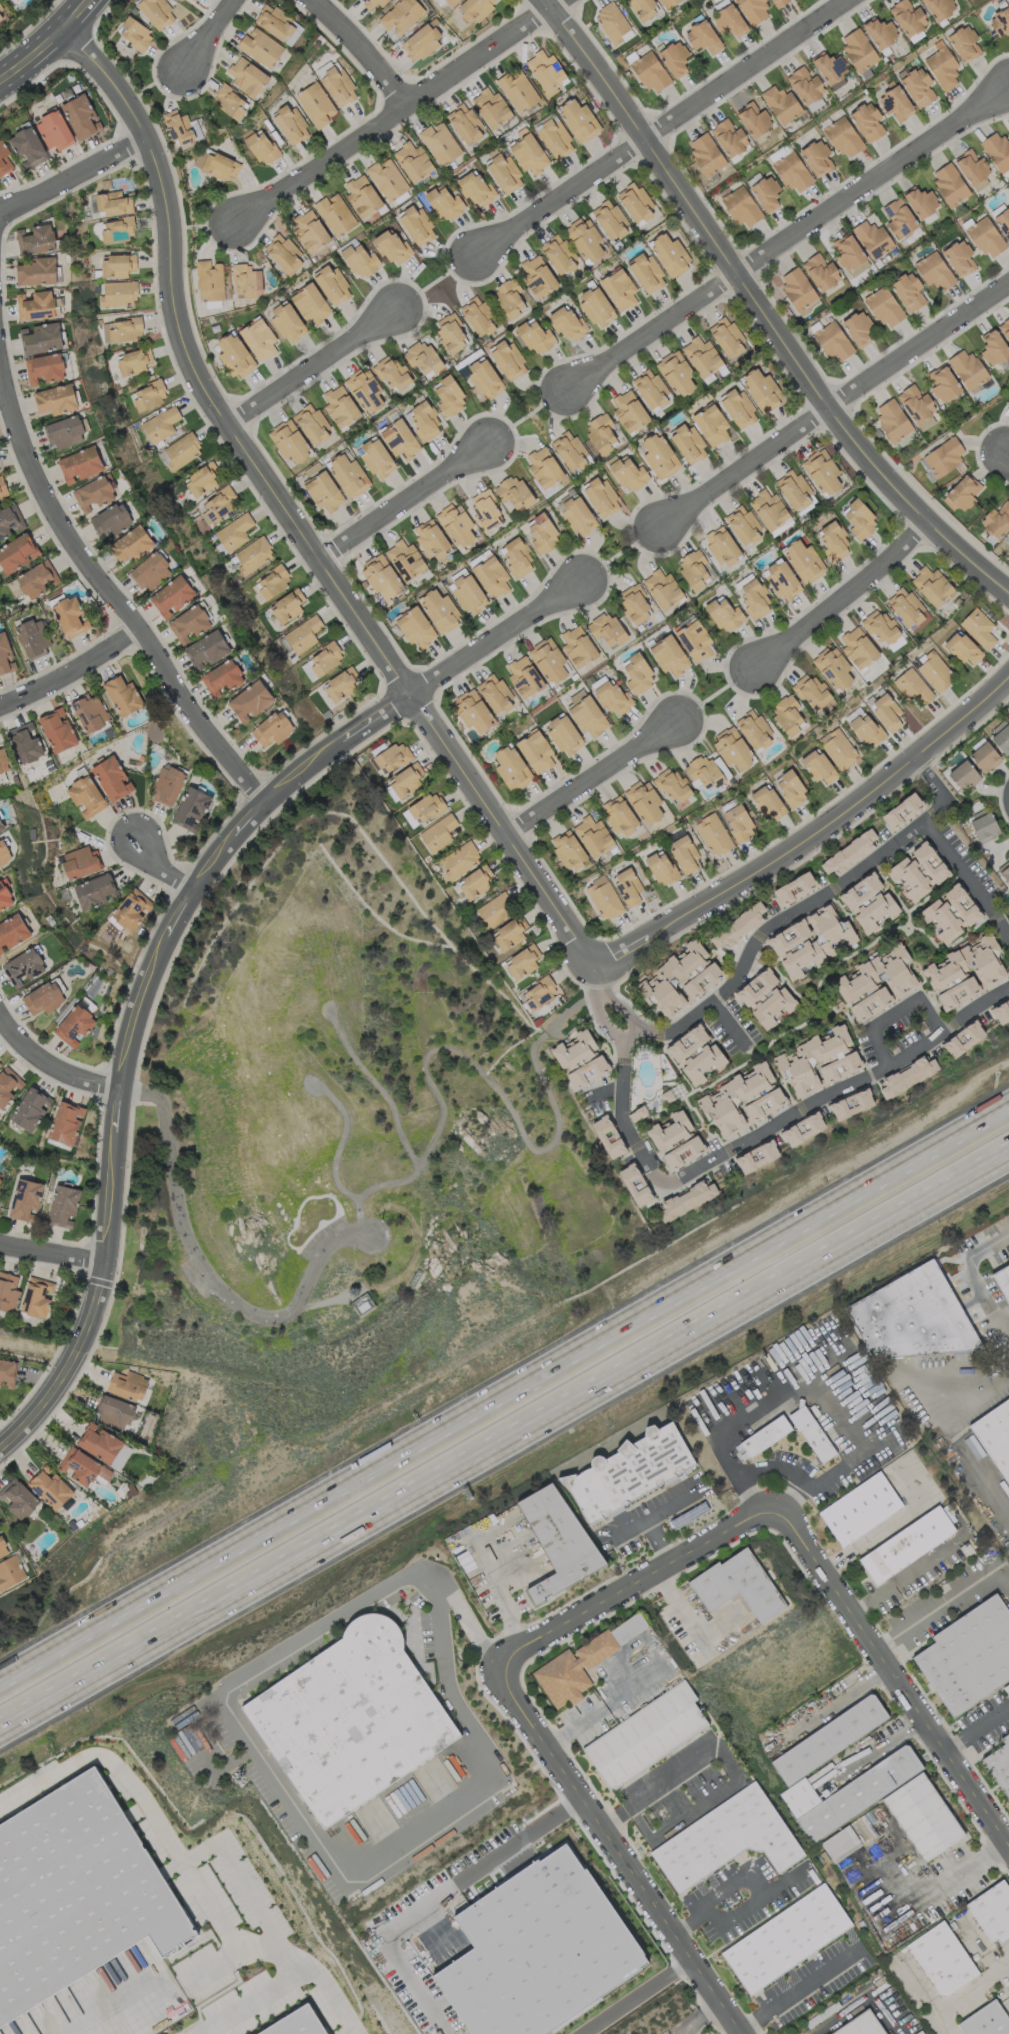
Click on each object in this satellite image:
building: (15, 0)
building: (192, 0)
building: (372, 2)
building: (451, 2)
building: (778, 2)
building: (667, 3)
building: (642, 8)
building: (939, 8)
building: (473, 9)
building: (753, 10)
building: (2, 12)
building: (156, 12)
building: (400, 15)
building: (907, 17)
building: (728, 20)
building: (274, 21)
building: (1000, 21)
building: (612, 23)
building: (879, 32)
building: (134, 33)
building: (702, 36)
road: (205, 37)
building: (420, 41)
building: (964, 43)
road: (49, 44)
building: (259, 46)
road: (352, 49)
building: (858, 49)
building: (674, 57)
building: (941, 66)
building: (829, 67)
building: (546, 72)
building: (650, 72)
building: (246, 76)
building: (805, 85)
building: (338, 86)
building: (917, 87)
building: (517, 89)
building: (228, 100)
building: (315, 103)
building: (781, 103)
building: (895, 103)
road: (393, 104)
building: (490, 107)
building: (80, 116)
building: (754, 119)
building: (578, 120)
building: (866, 121)
building: (289, 123)
building: (464, 124)
building: (180, 128)
road: (661, 128)
building: (53, 130)
building: (843, 136)
building: (553, 137)
building: (729, 137)
building: (439, 142)
building: (27, 146)
building: (261, 147)
building: (997, 150)
building: (528, 153)
building: (777, 153)
building: (706, 154)
building: (199, 157)
building: (816, 157)
building: (4, 160)
building: (412, 161)
building: (219, 165)
building: (971, 166)
building: (503, 172)
building: (792, 172)
road: (72, 178)
building: (386, 179)
building: (949, 183)
building: (475, 188)
building: (765, 192)
building: (361, 195)
building: (921, 201)
building: (112, 202)
building: (443, 202)
building: (635, 202)
building: (741, 206)
building: (374, 213)
building: (334, 214)
building: (898, 217)
building: (609, 219)
building: (1003, 222)
building: (416, 224)
building: (117, 229)
building: (309, 230)
building: (985, 237)
building: (872, 238)
building: (35, 239)
building: (585, 239)
road: (786, 241)
building: (282, 253)
building: (558, 254)
building: (669, 254)
building: (959, 257)
building: (359, 260)
building: (116, 265)
building: (934, 270)
building: (36, 271)
building: (820, 271)
building: (645, 272)
building: (537, 276)
building: (209, 280)
building: (246, 280)
building: (331, 284)
building: (618, 288)
building: (797, 288)
building: (908, 291)
building: (118, 292)
building: (509, 297)
building: (310, 303)
building: (37, 305)
building: (596, 306)
building: (884, 306)
road: (759, 308)
building: (477, 316)
building: (286, 321)
building: (567, 323)
building: (857, 328)
building: (1005, 328)
building: (121, 329)
building: (449, 332)
building: (535, 335)
building: (727, 337)
building: (41, 338)
building: (258, 338)
building: (833, 341)
building: (993, 348)
building: (233, 355)
building: (701, 355)
building: (422, 357)
building: (507, 359)
building: (134, 361)
road: (311, 363)
building: (44, 367)
building: (968, 368)
building: (390, 372)
building: (676, 373)
building: (483, 377)
building: (943, 383)
building: (364, 389)
building: (651, 389)
building: (761, 390)
building: (148, 394)
building: (448, 396)
building: (55, 399)
building: (915, 403)
road: (828, 404)
building: (340, 406)
building: (737, 407)
building: (629, 411)
building: (892, 419)
building: (424, 421)
building: (160, 424)
building: (311, 424)
building: (710, 424)
building: (66, 431)
building: (601, 433)
building: (399, 439)
building: (288, 441)
building: (687, 443)
building: (568, 449)
road: (1006, 449)
building: (179, 451)
building: (943, 455)
building: (658, 456)
building: (376, 457)
building: (79, 464)
building: (543, 467)
building: (822, 471)
building: (628, 474)
building: (347, 475)
building: (201, 478)
building: (2, 487)
building: (793, 489)
building: (323, 491)
building: (513, 492)
building: (93, 493)
building: (962, 493)
building: (600, 496)
road: (403, 499)
building: (217, 504)
building: (485, 508)
building: (768, 508)
building: (577, 515)
road: (287, 516)
building: (110, 519)
building: (858, 519)
building: (10, 520)
building: (996, 520)
building: (742, 524)
building: (457, 525)
building: (780, 526)
building: (233, 531)
building: (542, 534)
building: (1008, 534)
building: (431, 538)
building: (833, 541)
building: (130, 544)
building: (721, 545)
building: (17, 552)
building: (252, 554)
building: (516, 556)
building: (405, 559)
building: (803, 560)
building: (693, 569)
building: (150, 570)
building: (491, 576)
building: (36, 578)
building: (380, 578)
building: (781, 579)
building: (272, 581)
building: (931, 585)
building: (662, 588)
building: (468, 592)
road: (839, 593)
building: (170, 596)
building: (754, 599)
road: (110, 602)
building: (634, 603)
building: (286, 606)
building: (907, 608)
building: (439, 609)
building: (724, 614)
building: (69, 616)
building: (189, 622)
building: (415, 626)
building: (879, 626)
building: (978, 627)
building: (606, 629)
building: (303, 633)
road: (493, 636)
building: (32, 637)
building: (694, 640)
building: (577, 646)
building: (857, 647)
building: (961, 648)
building: (206, 649)
building: (5, 655)
building: (668, 655)
building: (324, 658)
building: (549, 660)
building: (833, 667)
building: (637, 674)
building: (523, 676)
road: (71, 678)
building: (221, 678)
building: (341, 684)
building: (912, 686)
building: (494, 693)
building: (812, 693)
building: (122, 695)
building: (613, 698)
building: (250, 700)
building: (472, 711)
building: (886, 711)
building: (89, 712)
building: (586, 713)
building: (787, 714)
building: (1008, 716)
building: (272, 728)
building: (753, 729)
building: (866, 729)
building: (56, 730)
building: (563, 733)
building: (1001, 737)
building: (24, 742)
building: (731, 748)
building: (838, 748)
building: (535, 751)
building: (393, 756)
building: (984, 756)
building: (2, 761)
building: (817, 765)
building: (510, 768)
building: (706, 770)
road: (590, 774)
building: (963, 775)
building: (111, 778)
building: (405, 779)
building: (166, 785)
building: (671, 785)
building: (790, 788)
road: (322, 789)
building: (85, 796)
building: (644, 801)
building: (768, 802)
building: (190, 808)
building: (422, 809)
building: (902, 810)
building: (619, 815)
building: (738, 822)
building: (983, 825)
building: (1, 826)
building: (437, 832)
building: (713, 833)
road: (814, 834)
building: (592, 835)
building: (567, 849)
road: (950, 850)
building: (3, 852)
building: (683, 853)
building: (848, 853)
building: (460, 858)
building: (80, 862)
road: (159, 865)
building: (661, 867)
building: (919, 870)
building: (1004, 870)
building: (474, 882)
building: (627, 885)
building: (794, 888)
building: (95, 890)
building: (4, 894)
building: (604, 899)
building: (869, 902)
building: (1008, 903)
building: (130, 909)
building: (494, 909)
building: (950, 912)
road: (778, 918)
building: (737, 925)
building: (11, 931)
building: (509, 933)
building: (810, 940)
building: (522, 961)
building: (22, 967)
building: (965, 970)
road: (596, 976)
building: (680, 978)
building: (877, 981)
building: (538, 993)
building: (44, 996)
building: (765, 998)
building: (86, 1004)
road: (621, 1006)
road: (892, 1010)
building: (1001, 1011)
road: (601, 1014)
road: (729, 1021)
building: (73, 1025)
road: (130, 1028)
road: (633, 1035)
building: (963, 1039)
building: (574, 1050)
road: (48, 1051)
building: (695, 1054)
building: (818, 1060)
building: (587, 1071)
road: (488, 1076)
building: (907, 1076)
building: (8, 1084)
road: (375, 1087)
road: (840, 1087)
road: (600, 1093)
building: (741, 1099)
building: (851, 1103)
building: (29, 1108)
road: (622, 1119)
building: (65, 1122)
building: (802, 1129)
building: (670, 1130)
building: (607, 1136)
road: (343, 1137)
building: (682, 1152)
building: (756, 1156)
park: (348, 1161)
building: (0, 1178)
building: (634, 1184)
building: (24, 1198)
building: (686, 1199)
building: (62, 1205)
road: (49, 1245)
parking lot: (333, 1254)
road: (975, 1273)
road: (205, 1278)
building: (1002, 1279)
building: (7, 1291)
building: (36, 1296)
building: (361, 1303)
building: (911, 1316)
road: (793, 1365)
building: (7, 1373)
building: (126, 1384)
road: (505, 1399)
building: (113, 1411)
building: (811, 1433)
road: (504, 1434)
building: (995, 1434)
building: (764, 1435)
building: (98, 1443)
building: (81, 1466)
building: (629, 1471)
road: (984, 1484)
building: (49, 1487)
building: (17, 1497)
building: (859, 1508)
road: (647, 1517)
road: (883, 1525)
road: (631, 1526)
building: (557, 1540)
building: (907, 1543)
building: (2, 1548)
road: (927, 1558)
building: (10, 1572)
road: (978, 1577)
road: (630, 1579)
building: (736, 1584)
road: (872, 1598)
road: (685, 1617)
road: (909, 1623)
building: (968, 1655)
building: (581, 1662)
road: (866, 1680)
road: (897, 1681)
road: (599, 1709)
road: (812, 1717)
building: (351, 1719)
road: (975, 1726)
building: (645, 1735)
building: (828, 1738)
building: (1000, 1762)
road: (728, 1764)
building: (848, 1793)
road: (285, 1799)
building: (922, 1816)
building: (725, 1838)
building: (847, 1838)
road: (618, 1856)
road: (971, 1864)
road: (184, 1866)
road: (238, 1878)
road: (907, 1894)
building: (76, 1896)
road: (436, 1898)
road: (749, 1901)
building: (992, 1911)
building: (785, 1938)
building: (537, 1949)
building: (941, 1958)
road: (794, 1990)
road: (166, 1991)
road: (966, 1994)
road: (633, 1997)
road: (251, 2000)
road: (861, 2003)
road: (696, 2019)
building: (986, 2020)
building: (302, 2024)
building: (860, 2025)

